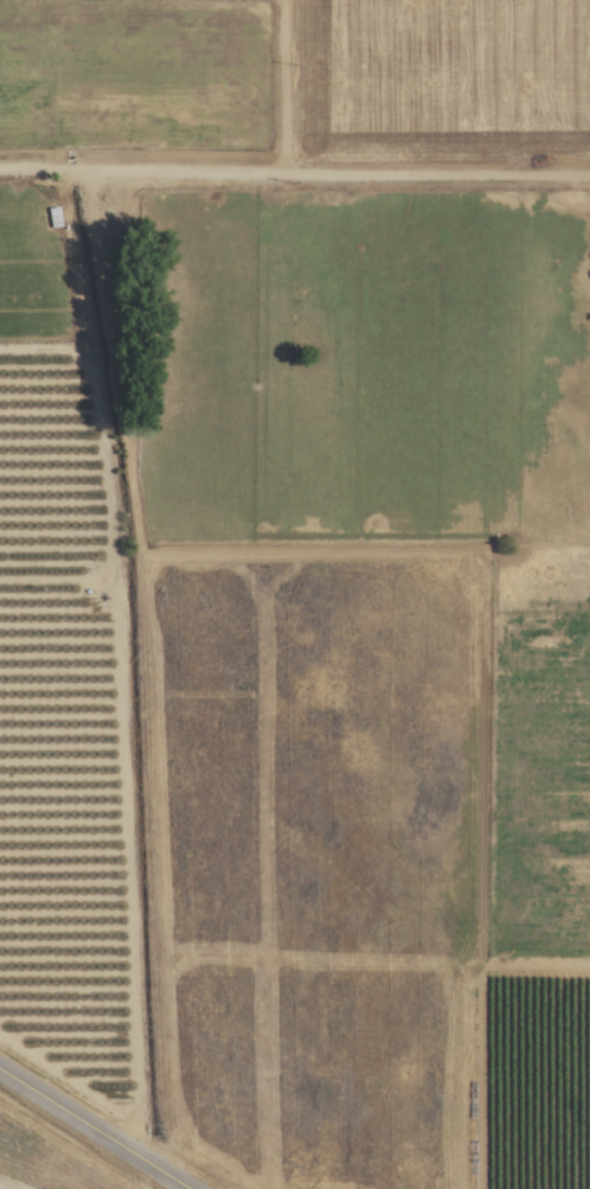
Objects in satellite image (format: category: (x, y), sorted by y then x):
road: (294, 174)
crop: (355, 416)
crop: (71, 717)
road: (92, 1130)

